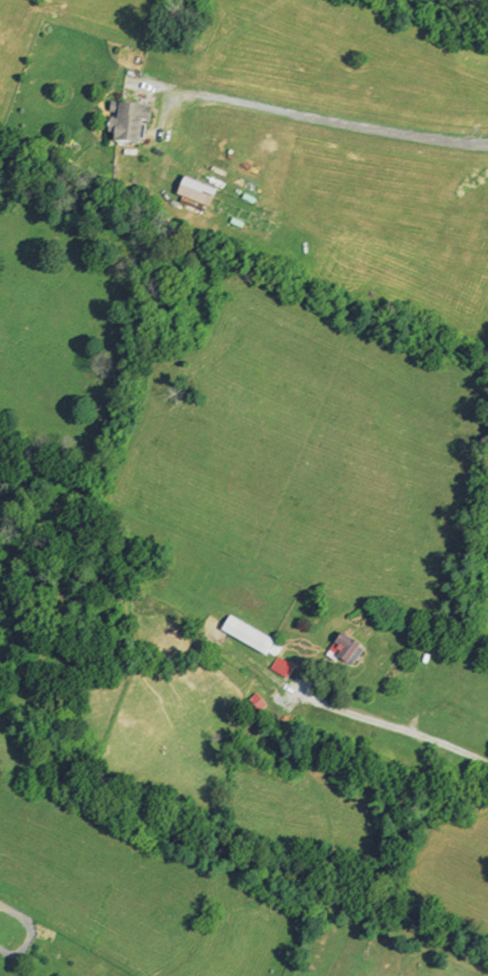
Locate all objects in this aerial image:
road: (345, 123)
building: (126, 126)
building: (83, 577)
building: (247, 633)
crop: (486, 639)
building: (345, 646)
building: (282, 666)
building: (257, 700)
road: (393, 728)

